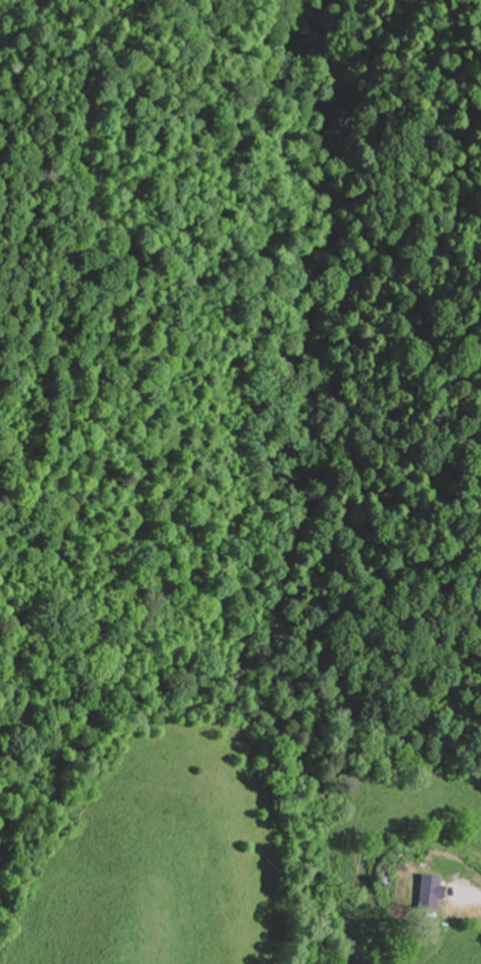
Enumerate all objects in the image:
building: (428, 893)

